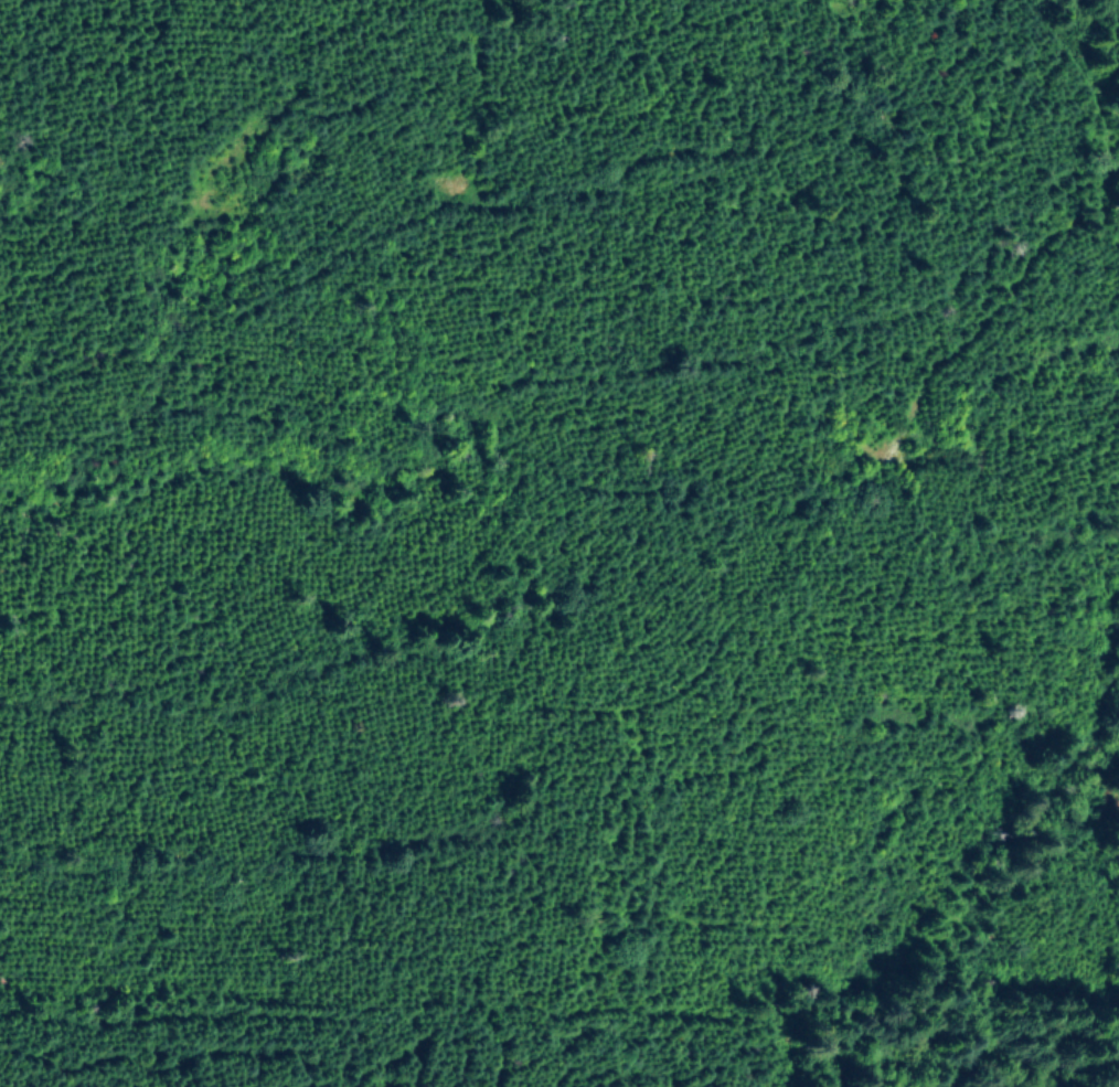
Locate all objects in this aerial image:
road: (1109, 3)
road: (846, 169)
road: (723, 628)
road: (275, 781)

